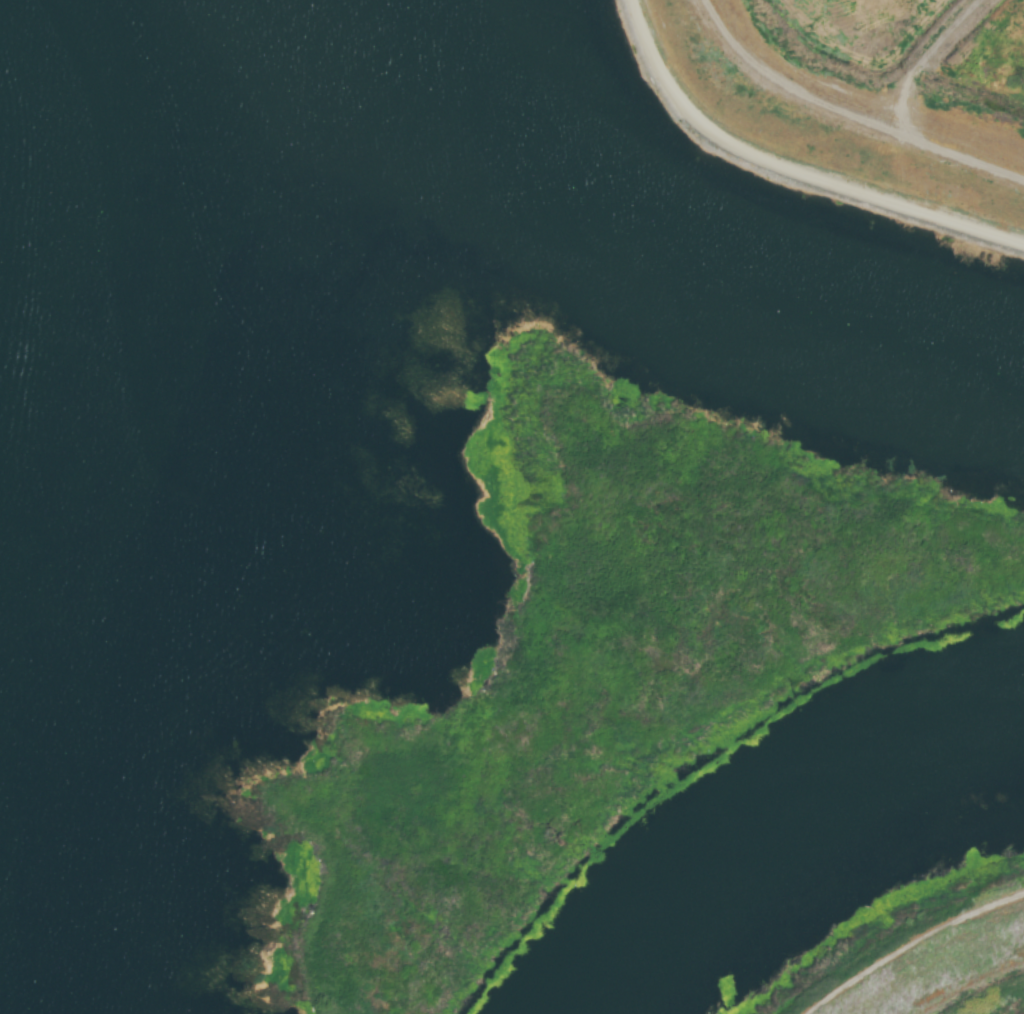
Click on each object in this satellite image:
river: (9, 44)
crop: (909, 65)
road: (790, 168)
river: (661, 272)
river: (778, 824)
crop: (975, 993)

